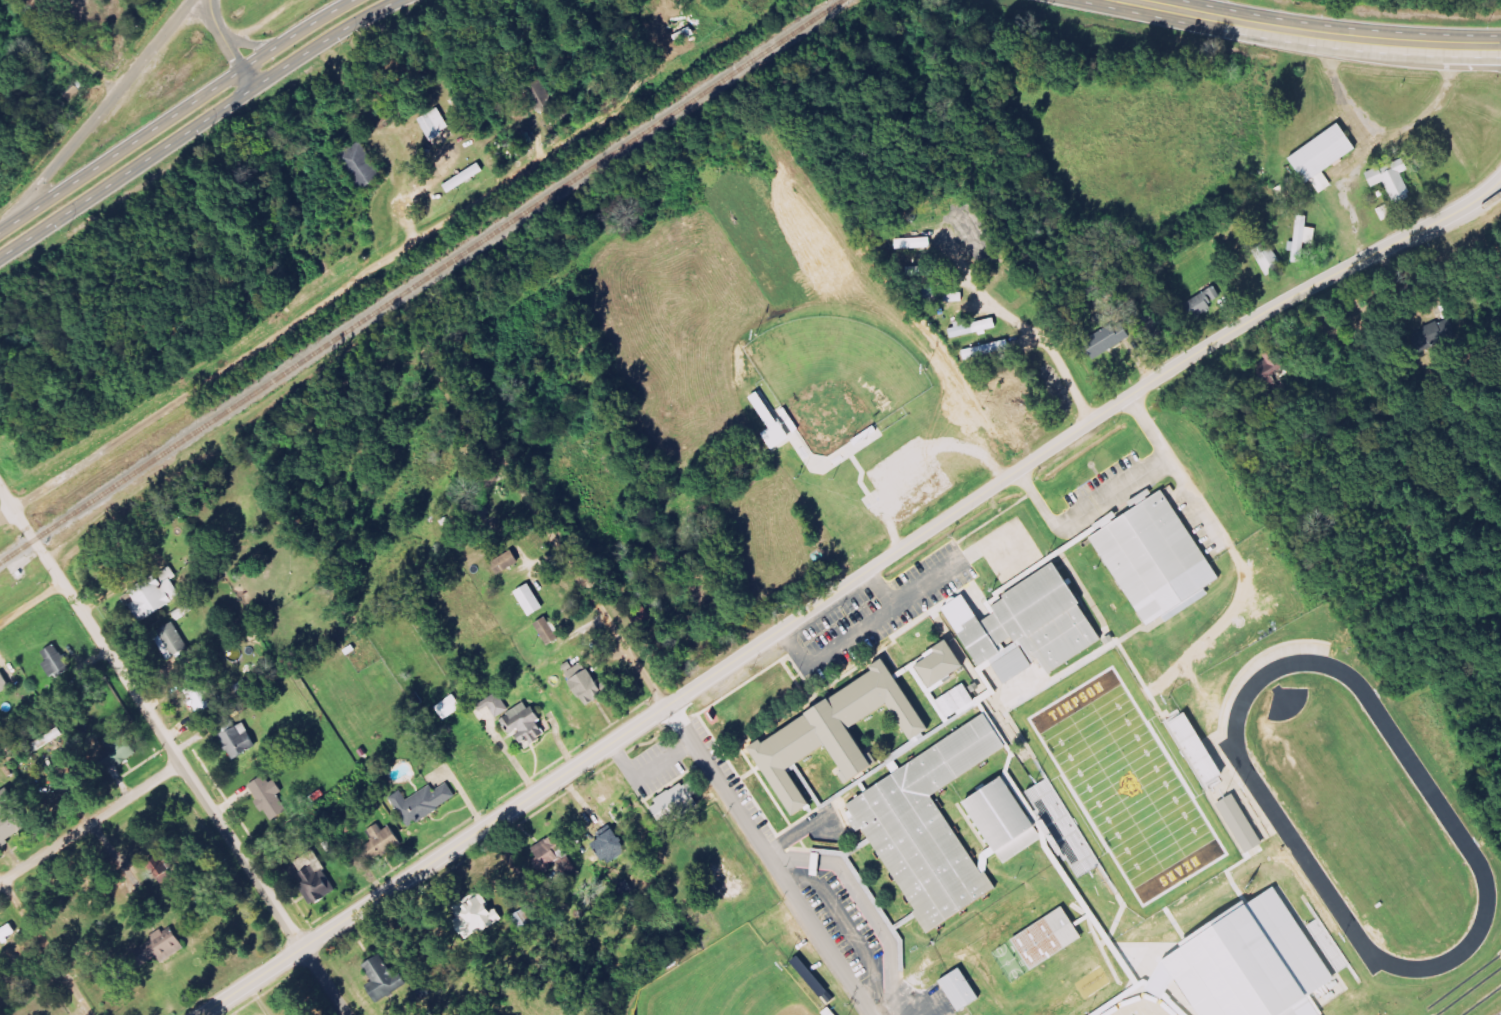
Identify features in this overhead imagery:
road: (1144, 1)
road: (1112, 4)
road: (264, 19)
road: (1322, 34)
road: (248, 43)
road: (228, 45)
road: (65, 46)
building: (543, 96)
road: (174, 114)
road: (97, 115)
building: (437, 124)
road: (197, 125)
building: (1327, 156)
building: (361, 165)
building: (1396, 180)
building: (1305, 238)
building: (1272, 260)
railway: (421, 281)
building: (1205, 302)
road: (301, 318)
building: (975, 327)
building: (1433, 336)
building: (1111, 339)
road: (1049, 346)
building: (989, 349)
building: (1274, 374)
building: (779, 422)
building: (1111, 521)
building: (1160, 558)
building: (509, 562)
road: (846, 584)
building: (158, 594)
building: (532, 600)
road: (32, 603)
road: (90, 624)
building: (1031, 625)
building: (550, 630)
building: (177, 644)
building: (58, 662)
road: (635, 664)
building: (943, 664)
building: (5, 684)
building: (588, 684)
building: (206, 694)
building: (497, 705)
building: (452, 707)
building: (527, 724)
building: (839, 733)
building: (237, 736)
building: (47, 741)
building: (122, 748)
building: (1196, 748)
park: (1131, 786)
building: (272, 796)
building: (425, 803)
building: (679, 803)
building: (1000, 814)
track: (1362, 814)
building: (12, 818)
building: (1244, 824)
road: (90, 826)
building: (932, 826)
building: (1063, 828)
building: (383, 842)
building: (614, 847)
building: (556, 857)
building: (317, 881)
road: (259, 890)
building: (480, 915)
building: (527, 917)
building: (1219, 927)
building: (1052, 938)
road: (45, 945)
building: (164, 946)
building: (1253, 965)
building: (386, 979)
park: (728, 982)
building: (960, 990)
park: (1091, 996)

